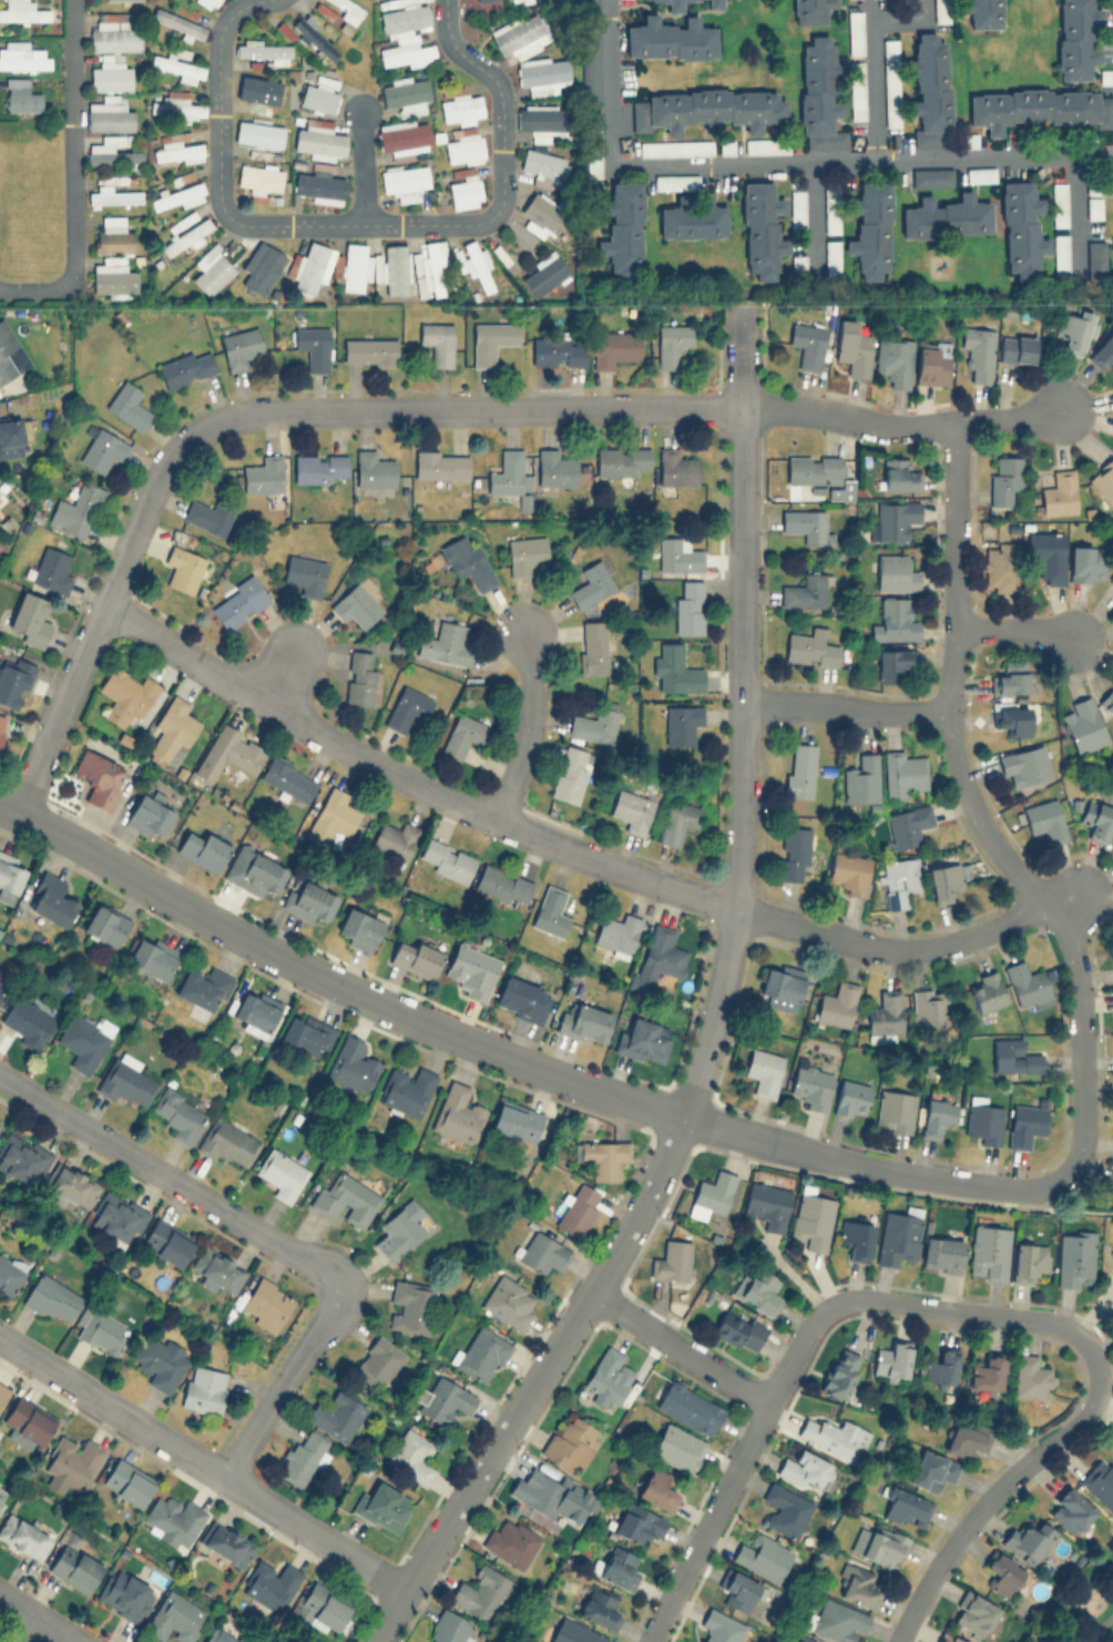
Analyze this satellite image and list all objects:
building: (129, 0)
building: (515, 1)
building: (210, 2)
building: (714, 2)
building: (673, 4)
building: (346, 8)
building: (809, 10)
building: (940, 10)
building: (21, 11)
building: (980, 12)
building: (404, 18)
building: (180, 23)
building: (312, 32)
building: (854, 32)
building: (519, 33)
building: (114, 37)
building: (1075, 38)
building: (670, 39)
building: (263, 50)
building: (406, 53)
building: (21, 55)
building: (178, 68)
building: (543, 74)
building: (1105, 77)
building: (110, 78)
road: (874, 79)
building: (890, 82)
building: (855, 90)
building: (929, 91)
building: (319, 93)
building: (257, 94)
building: (405, 94)
building: (20, 95)
building: (818, 95)
building: (175, 105)
building: (1039, 108)
building: (460, 109)
building: (705, 109)
building: (109, 114)
building: (538, 119)
building: (258, 133)
building: (402, 137)
building: (966, 140)
building: (319, 141)
building: (765, 145)
building: (463, 146)
building: (726, 146)
building: (675, 147)
building: (177, 152)
building: (113, 153)
road: (783, 161)
building: (542, 165)
road: (361, 166)
building: (980, 173)
building: (931, 176)
road: (72, 177)
building: (258, 177)
building: (404, 181)
building: (675, 181)
building: (318, 185)
building: (464, 185)
building: (1092, 187)
building: (113, 192)
building: (175, 195)
building: (1059, 203)
building: (1093, 205)
building: (797, 210)
road: (816, 211)
building: (830, 211)
building: (946, 216)
building: (542, 217)
building: (692, 220)
road: (360, 223)
building: (623, 227)
building: (870, 228)
building: (1020, 228)
building: (760, 231)
building: (112, 236)
building: (185, 236)
building: (833, 254)
building: (1060, 254)
building: (1095, 257)
building: (797, 262)
building: (474, 264)
building: (261, 266)
building: (354, 266)
building: (310, 267)
building: (394, 268)
building: (211, 269)
building: (429, 269)
building: (543, 274)
building: (112, 279)
building: (1074, 330)
building: (490, 340)
building: (438, 341)
building: (672, 343)
building: (806, 343)
building: (313, 346)
building: (851, 346)
building: (239, 347)
building: (612, 347)
building: (1017, 348)
building: (368, 350)
building: (558, 350)
building: (1103, 350)
building: (978, 351)
building: (7, 353)
building: (894, 360)
building: (931, 361)
building: (185, 367)
building: (127, 405)
road: (572, 406)
road: (1007, 417)
building: (12, 435)
building: (102, 449)
building: (621, 460)
building: (440, 463)
building: (319, 467)
building: (554, 467)
building: (675, 467)
building: (371, 470)
building: (814, 470)
building: (263, 475)
building: (899, 475)
building: (509, 477)
building: (1004, 478)
building: (1103, 479)
building: (1059, 492)
building: (75, 509)
building: (208, 514)
building: (895, 519)
building: (806, 524)
building: (524, 553)
building: (1046, 553)
building: (677, 554)
building: (467, 561)
building: (1086, 562)
building: (1000, 565)
building: (51, 568)
building: (183, 568)
building: (895, 572)
building: (303, 573)
building: (1111, 577)
building: (593, 582)
building: (804, 591)
building: (239, 602)
building: (356, 605)
building: (687, 606)
road: (100, 616)
building: (897, 618)
building: (28, 619)
road: (1014, 629)
building: (445, 643)
building: (808, 644)
building: (593, 646)
building: (894, 663)
building: (673, 670)
road: (278, 674)
building: (359, 676)
building: (1011, 677)
building: (13, 681)
building: (125, 695)
building: (1109, 702)
building: (407, 707)
road: (845, 707)
building: (1011, 718)
building: (1, 720)
building: (594, 723)
building: (681, 723)
building: (1083, 725)
road: (528, 728)
building: (173, 732)
building: (462, 734)
building: (228, 753)
building: (1023, 766)
building: (799, 769)
building: (903, 772)
building: (570, 773)
building: (98, 777)
building: (287, 778)
building: (864, 778)
road: (408, 781)
building: (631, 809)
road: (983, 813)
building: (147, 816)
building: (331, 816)
building: (1096, 818)
building: (1044, 819)
building: (676, 820)
building: (908, 824)
building: (394, 839)
building: (202, 849)
building: (794, 853)
building: (446, 859)
building: (253, 870)
building: (9, 871)
building: (849, 871)
building: (899, 879)
building: (943, 880)
building: (502, 885)
building: (50, 899)
building: (308, 900)
building: (550, 910)
building: (104, 924)
building: (358, 928)
building: (616, 934)
road: (895, 947)
building: (660, 955)
building: (152, 956)
building: (415, 956)
building: (471, 970)
building: (1, 983)
building: (1027, 985)
building: (780, 986)
building: (203, 988)
building: (986, 990)
building: (521, 998)
building: (836, 1003)
building: (931, 1008)
building: (255, 1011)
building: (885, 1016)
road: (712, 1019)
building: (27, 1021)
building: (583, 1022)
building: (306, 1032)
building: (84, 1040)
building: (643, 1040)
road: (511, 1057)
building: (1013, 1057)
building: (351, 1065)
building: (763, 1071)
building: (125, 1079)
building: (810, 1084)
building: (406, 1090)
building: (850, 1098)
building: (895, 1110)
building: (457, 1112)
building: (178, 1114)
building: (936, 1114)
building: (515, 1120)
building: (984, 1122)
building: (1024, 1123)
building: (226, 1141)
building: (601, 1156)
building: (22, 1159)
building: (280, 1173)
road: (167, 1174)
building: (72, 1185)
building: (711, 1194)
building: (345, 1199)
building: (766, 1204)
building: (578, 1208)
road: (1069, 1208)
building: (116, 1217)
building: (811, 1221)
building: (399, 1230)
building: (898, 1235)
building: (855, 1238)
building: (167, 1242)
building: (990, 1250)
building: (541, 1252)
building: (941, 1253)
building: (1112, 1253)
building: (1074, 1257)
building: (671, 1261)
building: (1028, 1261)
building: (216, 1269)
building: (10, 1273)
building: (757, 1289)
building: (51, 1298)
building: (509, 1301)
building: (266, 1303)
building: (410, 1306)
building: (100, 1329)
building: (738, 1329)
road: (681, 1346)
road: (794, 1352)
building: (481, 1354)
building: (160, 1360)
building: (378, 1360)
building: (891, 1361)
building: (941, 1366)
building: (840, 1371)
building: (987, 1373)
building: (609, 1374)
building: (1031, 1377)
road: (283, 1380)
building: (203, 1388)
building: (3, 1391)
building: (443, 1399)
building: (688, 1407)
building: (336, 1415)
building: (28, 1419)
road: (1099, 1426)
building: (830, 1435)
park: (1106, 1437)
building: (966, 1438)
building: (570, 1441)
building: (677, 1447)
building: (411, 1455)
building: (302, 1457)
building: (73, 1460)
road: (202, 1462)
building: (803, 1467)
building: (932, 1469)
building: (1100, 1480)
building: (126, 1481)
road: (1000, 1486)
building: (656, 1488)
building: (2, 1493)
building: (545, 1495)
building: (903, 1505)
building: (381, 1506)
building: (784, 1509)
building: (1069, 1509)
building: (172, 1520)
building: (636, 1522)
building: (22, 1537)
building: (1027, 1540)
building: (510, 1541)
building: (226, 1543)
building: (877, 1544)
building: (762, 1556)
building: (74, 1565)
building: (617, 1567)
building: (1001, 1572)
building: (269, 1584)
building: (857, 1584)
building: (479, 1592)
building: (739, 1592)
building: (124, 1594)
park: (1080, 1604)
building: (321, 1608)
building: (599, 1608)
building: (972, 1613)
building: (175, 1616)
road: (37, 1618)
building: (835, 1619)
building: (719, 1626)
road: (1094, 1628)
building: (449, 1629)
road: (30, 1630)
building: (574, 1632)
building: (221, 1635)
building: (947, 1638)
building: (807, 1639)

